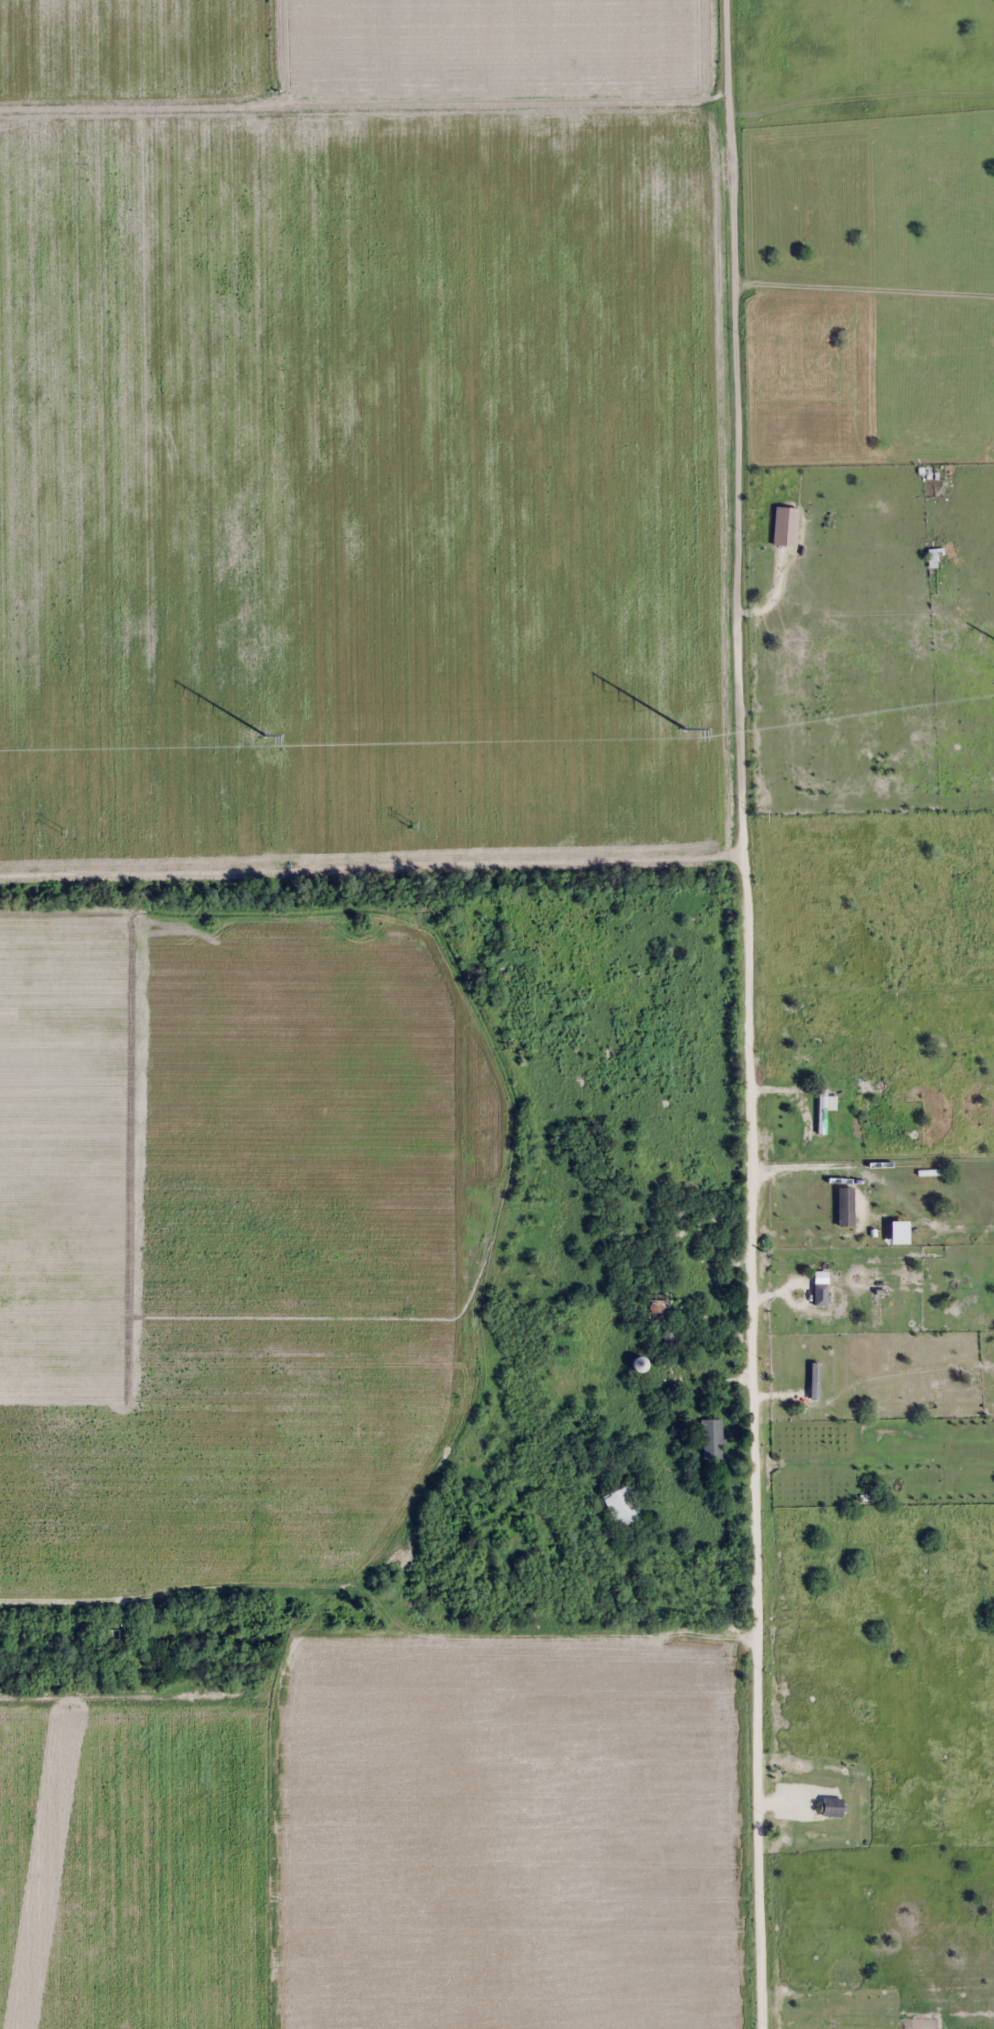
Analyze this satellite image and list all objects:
building: (784, 526)
power tower: (686, 728)
power tower: (264, 733)
power tower: (759, 814)
power tower: (410, 824)
power tower: (61, 829)
road: (743, 1014)
building: (821, 1111)
building: (669, 1339)
building: (638, 1364)
building: (671, 1372)
building: (591, 1439)
building: (710, 1439)
building: (625, 1507)

